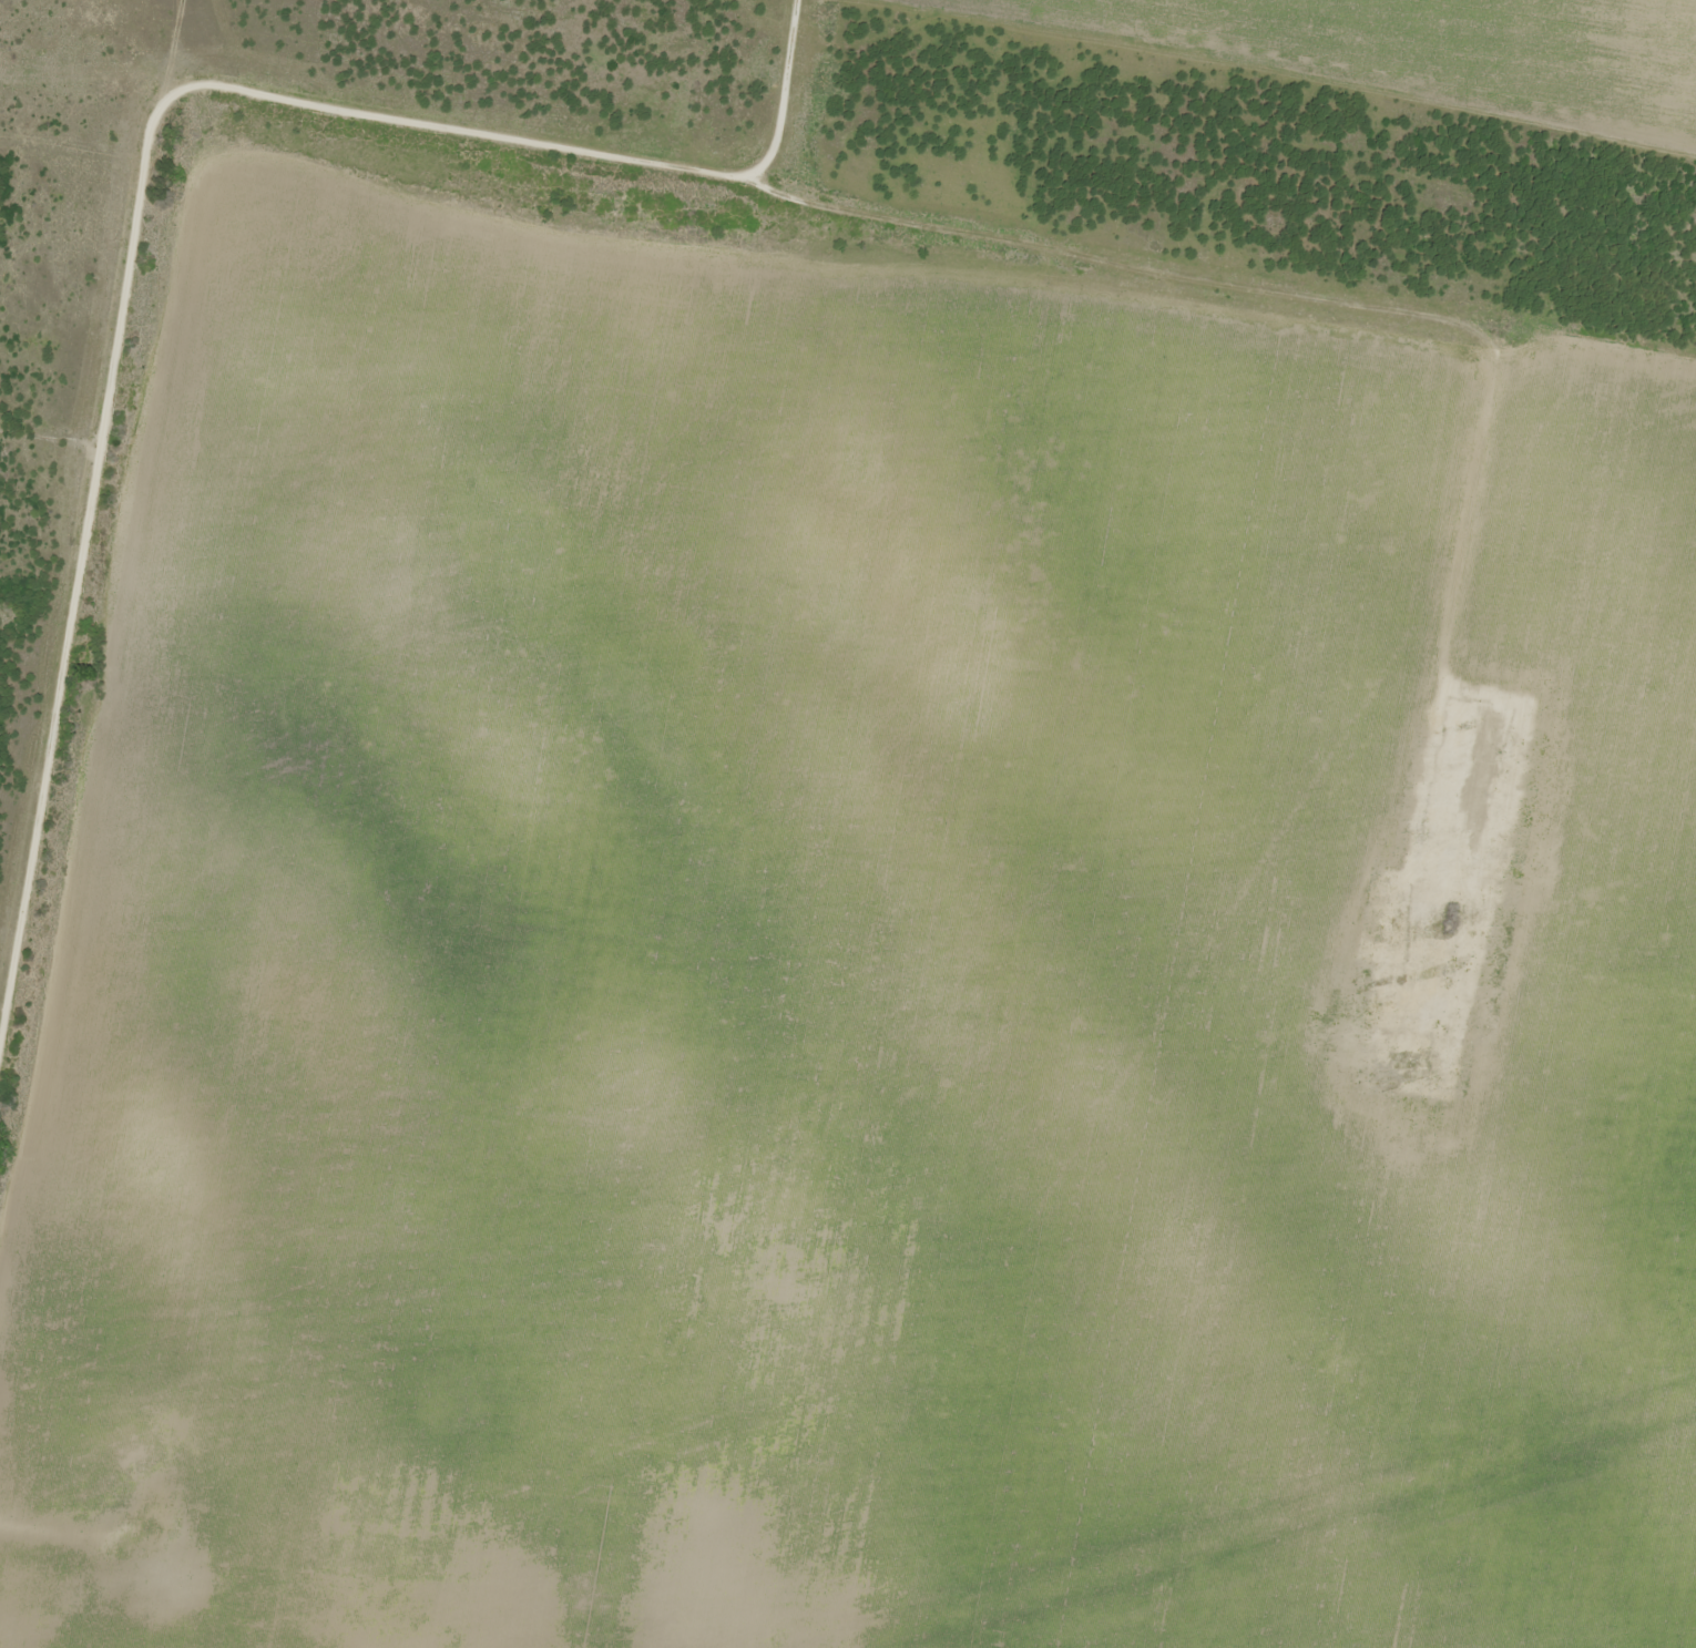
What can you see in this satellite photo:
road: (760, 98)
road: (476, 162)
road: (1144, 1521)
road: (51, 1529)

